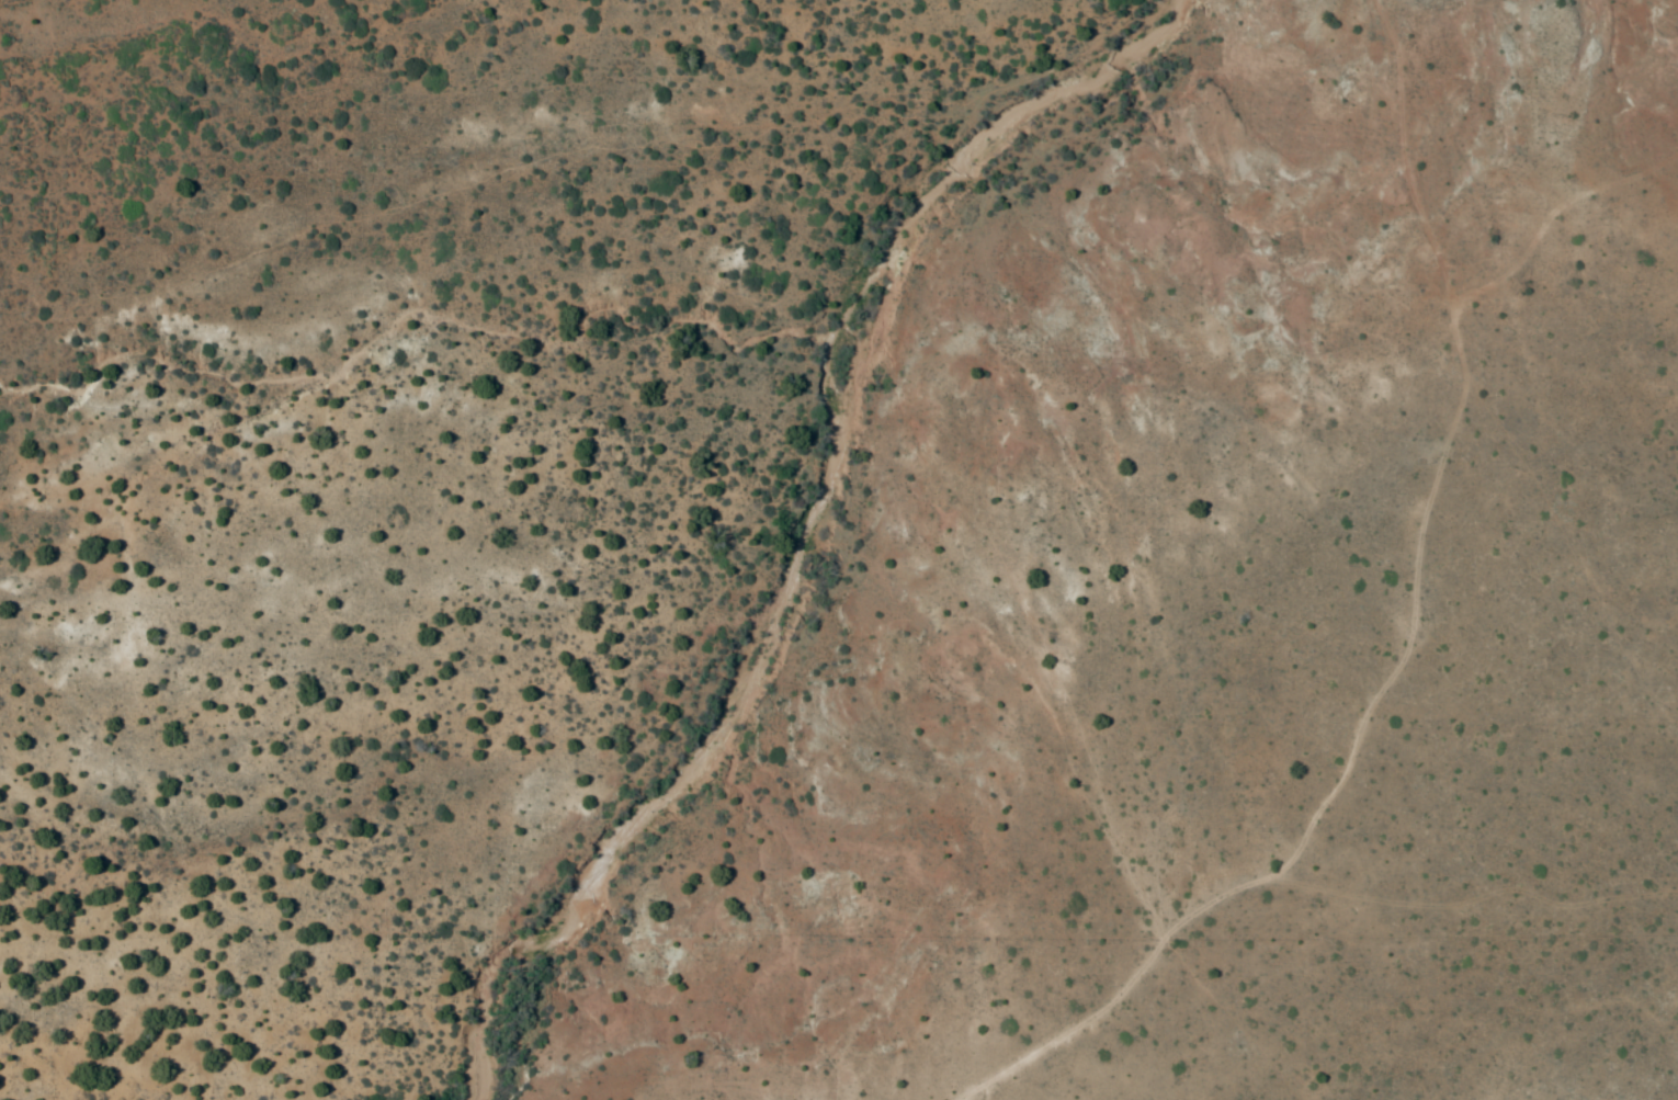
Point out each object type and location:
road: (1242, 858)

